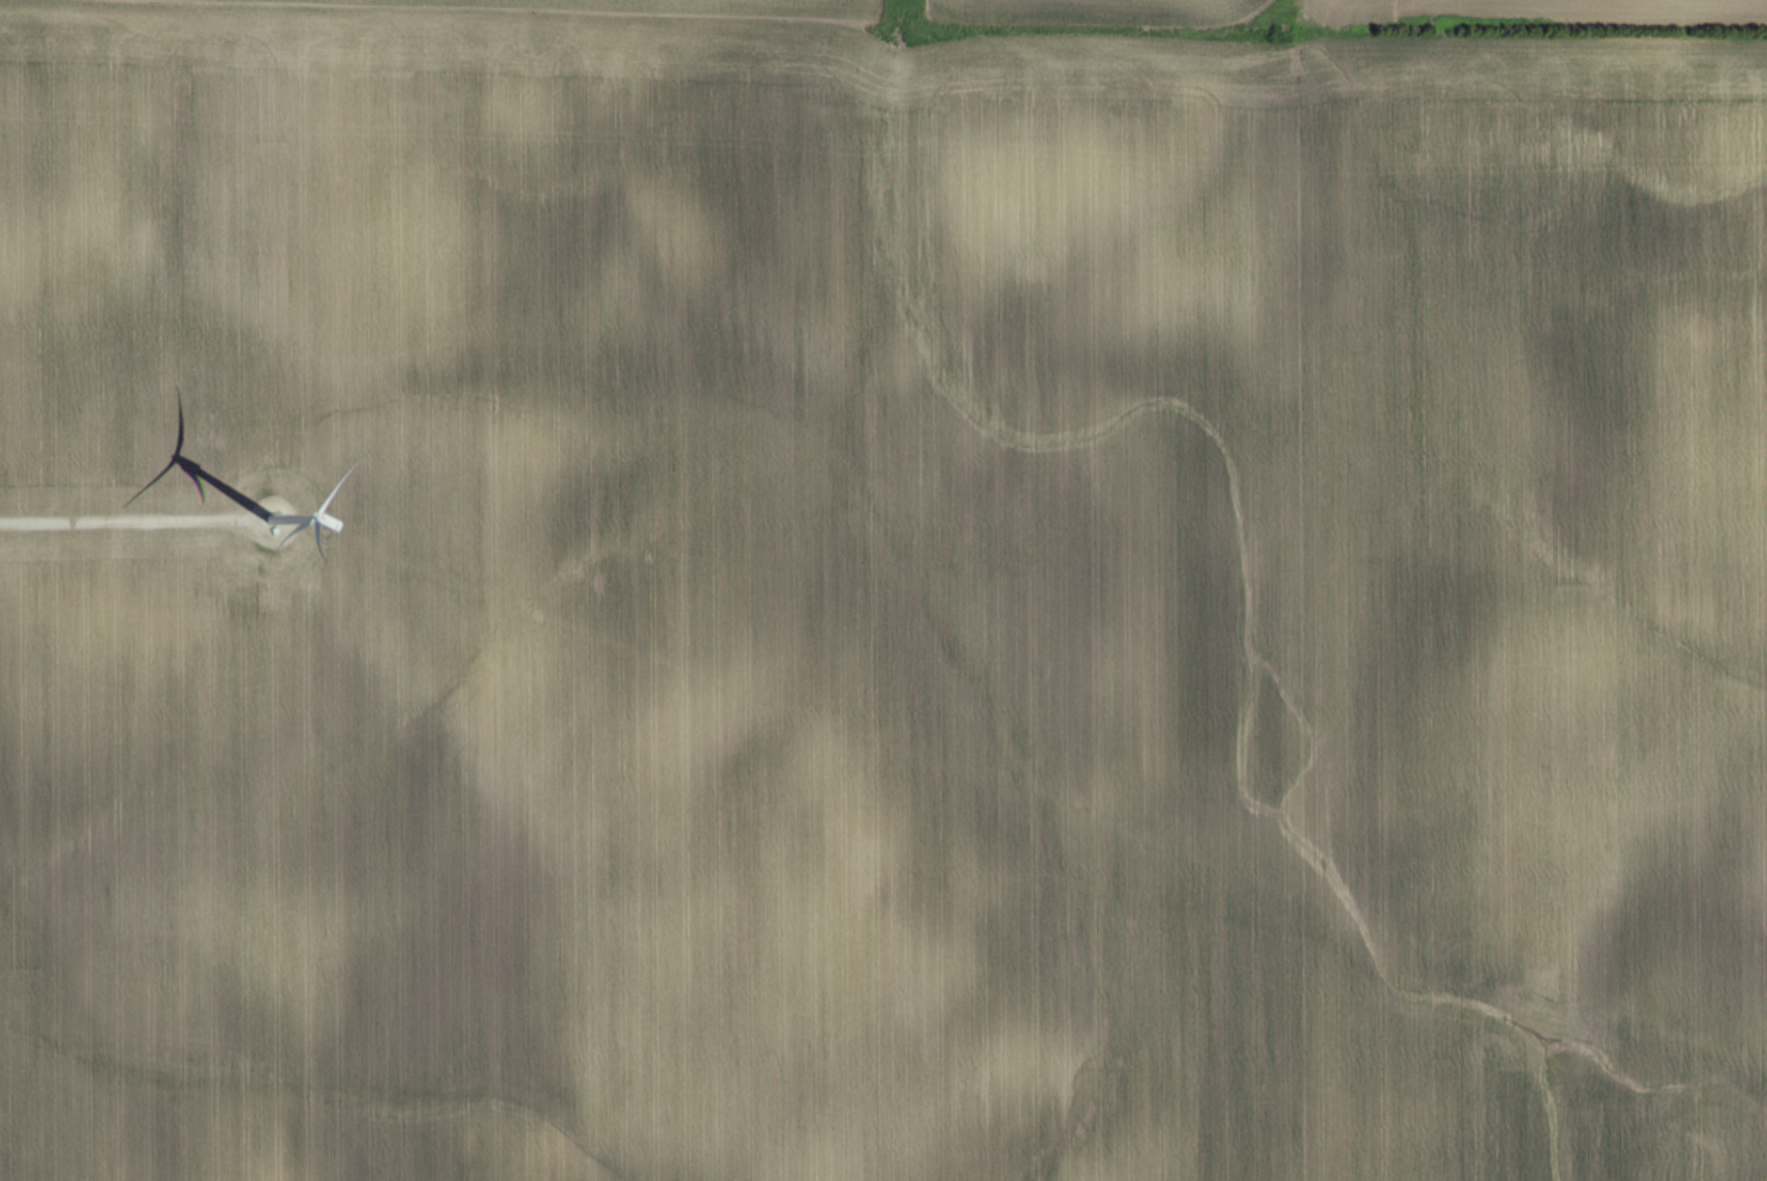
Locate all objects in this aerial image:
wind turbine: (274, 522)

